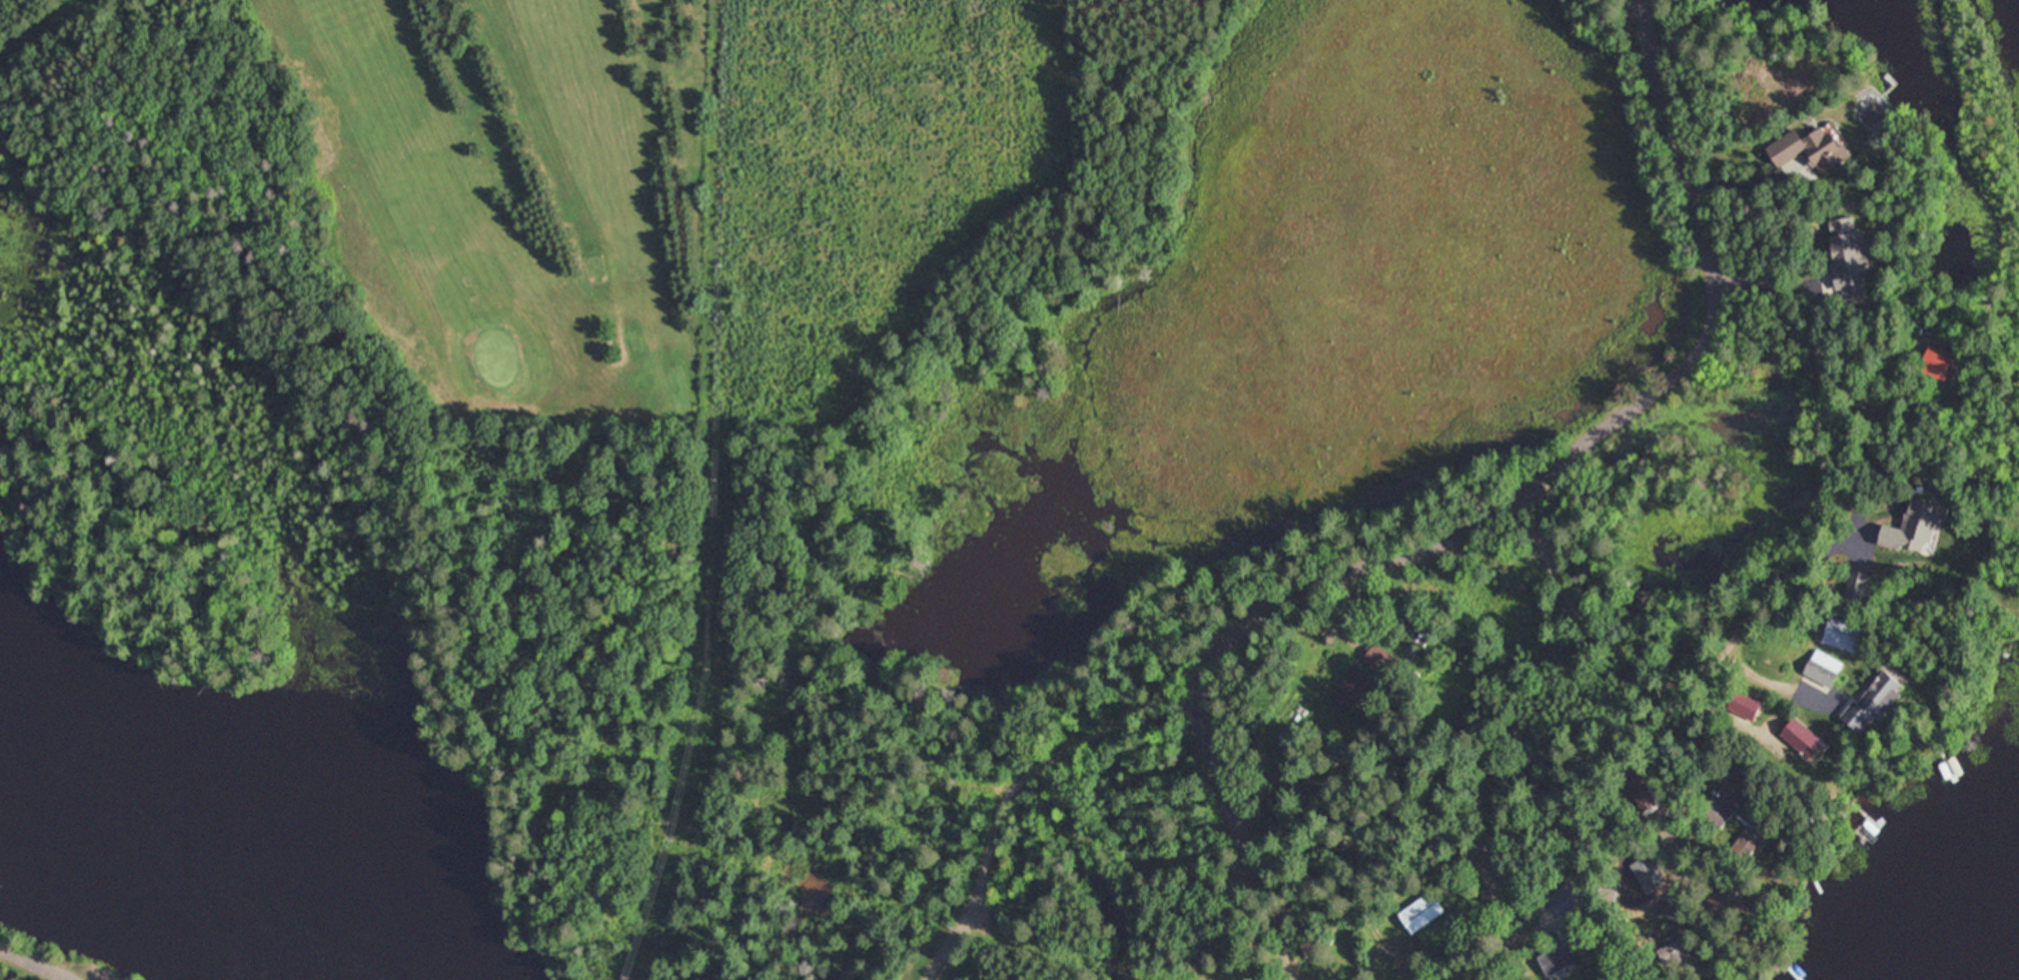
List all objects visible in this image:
building: (1810, 149)
park: (482, 193)
building: (1847, 258)
building: (1938, 363)
building: (1914, 529)
building: (1857, 585)
road: (1260, 607)
building: (1424, 637)
road: (1592, 644)
building: (1822, 668)
building: (1351, 688)
building: (1871, 704)
building: (1802, 740)
building: (1714, 813)
building: (1750, 829)
building: (1867, 831)
river: (211, 843)
building: (1567, 904)
building: (1420, 913)
road: (1233, 920)
building: (1674, 942)
building: (1557, 959)
road: (35, 962)

